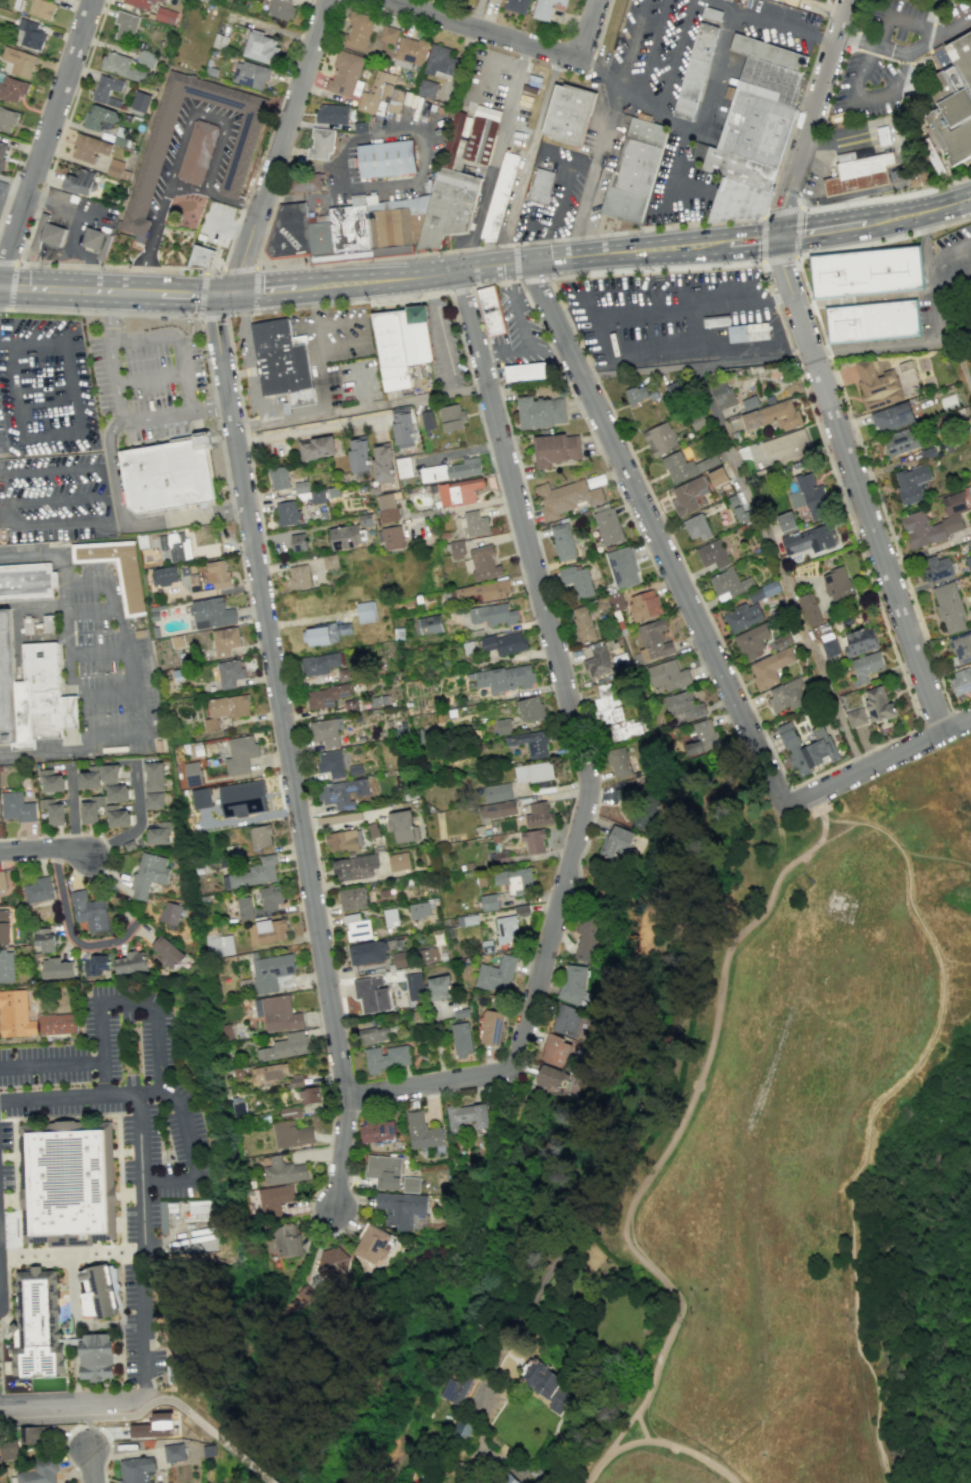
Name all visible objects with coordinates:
building: (818, 0)
building: (141, 3)
road: (205, 3)
building: (516, 5)
building: (41, 8)
building: (545, 8)
building: (280, 9)
road: (480, 13)
building: (165, 15)
road: (901, 21)
road: (773, 24)
building: (125, 26)
road: (483, 29)
road: (587, 29)
building: (357, 30)
road: (682, 33)
road: (937, 33)
building: (30, 34)
building: (388, 34)
road: (630, 45)
building: (259, 46)
building: (409, 51)
road: (651, 52)
building: (146, 58)
parking lot: (897, 58)
building: (439, 60)
building: (19, 61)
building: (698, 64)
building: (120, 66)
building: (249, 74)
building: (346, 74)
road: (714, 79)
building: (12, 88)
building: (426, 88)
building: (106, 90)
building: (377, 92)
road: (666, 92)
road: (864, 99)
building: (140, 101)
road: (826, 103)
building: (954, 103)
building: (331, 113)
building: (99, 117)
building: (570, 117)
road: (813, 117)
building: (7, 118)
road: (664, 119)
road: (186, 124)
building: (754, 130)
road: (46, 137)
building: (469, 138)
building: (320, 144)
road: (278, 147)
building: (89, 148)
building: (2, 152)
building: (197, 152)
building: (239, 153)
building: (386, 159)
road: (498, 159)
road: (525, 160)
road: (305, 162)
building: (117, 169)
building: (636, 169)
building: (860, 173)
road: (423, 174)
road: (11, 181)
building: (79, 181)
road: (15, 182)
building: (305, 182)
road: (186, 187)
road: (589, 190)
building: (543, 191)
building: (500, 196)
road: (885, 197)
road: (272, 208)
road: (766, 214)
parking lot: (215, 223)
building: (375, 224)
road: (230, 227)
building: (46, 233)
traffic signals: (780, 237)
road: (883, 238)
building: (96, 241)
road: (508, 244)
building: (199, 257)
road: (515, 261)
road: (7, 263)
road: (924, 264)
road: (153, 269)
road: (487, 270)
building: (865, 272)
road: (255, 273)
parking lot: (946, 278)
road: (534, 279)
road: (12, 286)
road: (460, 289)
traffic signals: (227, 293)
road: (473, 293)
road: (528, 298)
road: (515, 307)
road: (198, 310)
building: (491, 311)
road: (98, 312)
parking lot: (666, 313)
road: (240, 314)
building: (871, 321)
building: (748, 333)
road: (441, 335)
road: (921, 342)
building: (400, 344)
road: (315, 351)
road: (504, 352)
road: (548, 353)
parking lot: (339, 354)
road: (250, 359)
building: (281, 361)
road: (755, 361)
building: (525, 371)
road: (150, 376)
road: (470, 376)
road: (70, 380)
parking lot: (147, 380)
building: (876, 385)
building: (672, 388)
road: (362, 389)
road: (14, 390)
building: (636, 394)
building: (722, 394)
building: (750, 402)
road: (210, 407)
road: (362, 408)
building: (540, 411)
building: (773, 416)
road: (161, 417)
road: (216, 417)
building: (451, 417)
building: (892, 417)
building: (427, 423)
road: (310, 427)
building: (402, 427)
parking lot: (48, 436)
road: (246, 438)
building: (660, 439)
building: (902, 441)
building: (787, 446)
building: (316, 448)
building: (555, 449)
building: (358, 454)
building: (382, 463)
building: (686, 465)
building: (403, 467)
building: (451, 470)
road: (48, 471)
building: (167, 473)
building: (718, 476)
building: (278, 477)
road: (872, 483)
building: (911, 483)
road: (857, 485)
building: (458, 492)
road: (100, 495)
building: (688, 495)
building: (810, 496)
building: (566, 497)
road: (50, 500)
building: (386, 507)
building: (286, 512)
road: (52, 519)
building: (786, 521)
building: (915, 521)
building: (475, 523)
road: (131, 524)
building: (607, 526)
building: (696, 526)
road: (656, 535)
building: (345, 536)
building: (392, 537)
building: (809, 539)
building: (562, 541)
building: (298, 542)
building: (175, 545)
building: (457, 549)
road: (30, 554)
building: (712, 554)
building: (329, 561)
building: (483, 562)
building: (968, 563)
building: (622, 567)
building: (937, 567)
road: (777, 568)
road: (62, 569)
building: (119, 572)
building: (164, 575)
building: (218, 575)
building: (298, 576)
building: (576, 580)
building: (729, 584)
building: (837, 584)
building: (484, 590)
building: (763, 591)
road: (111, 595)
building: (644, 605)
building: (949, 607)
building: (809, 609)
road: (92, 610)
building: (365, 611)
building: (211, 613)
building: (969, 613)
building: (493, 614)
building: (742, 616)
building: (427, 624)
building: (583, 624)
building: (324, 633)
building: (783, 639)
building: (224, 640)
building: (653, 640)
building: (177, 641)
building: (752, 641)
building: (860, 641)
building: (504, 643)
building: (828, 646)
building: (960, 647)
road: (86, 651)
building: (597, 661)
building: (318, 663)
building: (30, 665)
building: (866, 666)
building: (770, 667)
building: (229, 672)
building: (344, 674)
building: (668, 675)
building: (505, 678)
building: (960, 681)
road: (130, 690)
road: (279, 692)
building: (788, 695)
building: (325, 696)
building: (878, 703)
building: (683, 705)
building: (225, 709)
building: (529, 709)
building: (613, 714)
building: (855, 717)
road: (759, 725)
building: (502, 726)
road: (958, 727)
building: (327, 731)
building: (702, 737)
building: (530, 742)
building: (807, 747)
road: (74, 752)
road: (584, 753)
building: (240, 754)
building: (617, 761)
building: (330, 763)
road: (878, 763)
building: (533, 772)
building: (192, 773)
building: (154, 776)
building: (50, 781)
building: (104, 781)
building: (342, 792)
building: (496, 792)
building: (625, 792)
building: (200, 797)
building: (242, 798)
building: (154, 800)
road: (797, 800)
building: (16, 807)
building: (90, 809)
building: (496, 809)
building: (53, 811)
parking lot: (801, 811)
building: (644, 812)
building: (538, 814)
building: (116, 816)
building: (402, 826)
building: (159, 833)
road: (59, 835)
building: (260, 836)
building: (342, 840)
building: (615, 840)
building: (533, 841)
road: (908, 843)
road: (102, 848)
building: (398, 861)
building: (354, 867)
building: (148, 874)
building: (251, 874)
building: (515, 879)
building: (2, 882)
building: (38, 890)
building: (270, 897)
building: (352, 898)
building: (488, 902)
building: (243, 907)
building: (419, 910)
building: (89, 911)
building: (169, 913)
building: (390, 917)
building: (4, 926)
building: (356, 927)
building: (506, 928)
road: (70, 931)
building: (266, 931)
building: (585, 934)
building: (44, 939)
building: (218, 945)
building: (166, 952)
building: (367, 952)
building: (429, 954)
building: (399, 959)
building: (129, 962)
building: (6, 965)
building: (94, 965)
building: (56, 968)
building: (270, 971)
building: (496, 974)
road: (940, 982)
building: (572, 983)
building: (414, 986)
building: (439, 987)
building: (371, 994)
road: (133, 1009)
building: (277, 1013)
building: (15, 1014)
building: (565, 1020)
building: (57, 1023)
building: (492, 1027)
building: (374, 1034)
building: (461, 1039)
building: (285, 1046)
building: (553, 1050)
building: (385, 1057)
building: (269, 1072)
building: (549, 1076)
building: (295, 1081)
road: (102, 1084)
road: (149, 1094)
building: (309, 1095)
road: (1, 1106)
building: (238, 1107)
building: (290, 1111)
building: (467, 1115)
road: (682, 1121)
road: (867, 1126)
building: (377, 1128)
building: (421, 1131)
building: (290, 1134)
road: (340, 1152)
building: (283, 1171)
building: (383, 1171)
parking lot: (166, 1179)
road: (167, 1180)
road: (139, 1181)
building: (66, 1182)
building: (409, 1184)
road: (888, 1185)
building: (274, 1198)
building: (400, 1208)
building: (200, 1209)
building: (163, 1217)
road: (849, 1232)
building: (373, 1245)
building: (333, 1264)
building: (98, 1291)
building: (302, 1296)
building: (37, 1324)
road: (899, 1350)
building: (95, 1357)
building: (177, 1369)
building: (549, 1386)
building: (455, 1388)
road: (73, 1400)
road: (1, 1404)
parking lot: (0, 1411)
road: (114, 1416)
road: (85, 1421)
road: (84, 1425)
building: (154, 1426)
building: (462, 1429)
building: (31, 1434)
road: (614, 1439)
road: (915, 1439)
road: (626, 1446)
building: (9, 1450)
building: (173, 1452)
road: (242, 1458)
road: (700, 1458)
road: (89, 1468)
building: (136, 1469)
building: (39, 1472)
road: (592, 1475)
building: (509, 1479)

